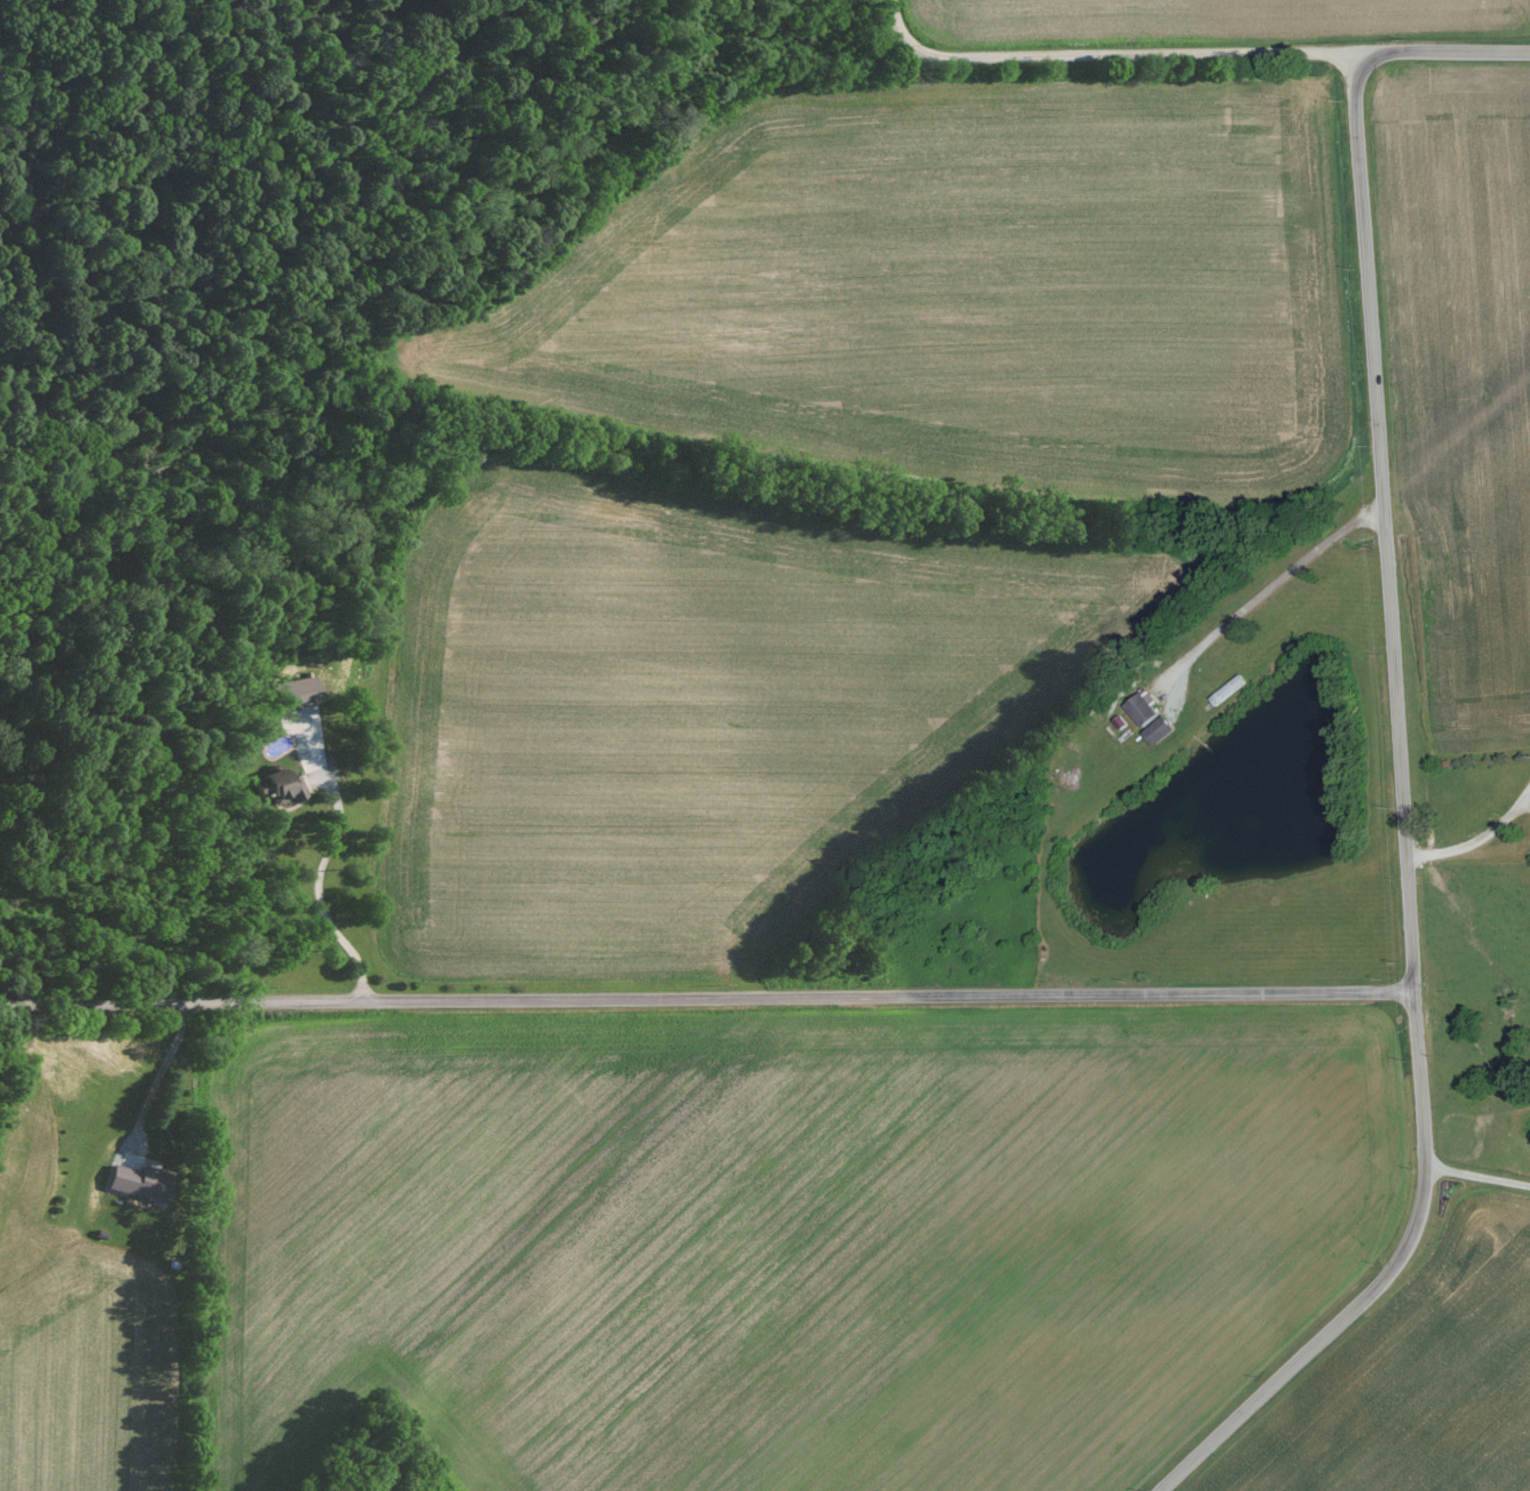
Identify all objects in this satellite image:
road: (1443, 50)
road: (1109, 55)
building: (302, 691)
building: (1145, 709)
building: (1163, 729)
building: (283, 786)
road: (1404, 830)
road: (707, 997)
building: (144, 1182)

